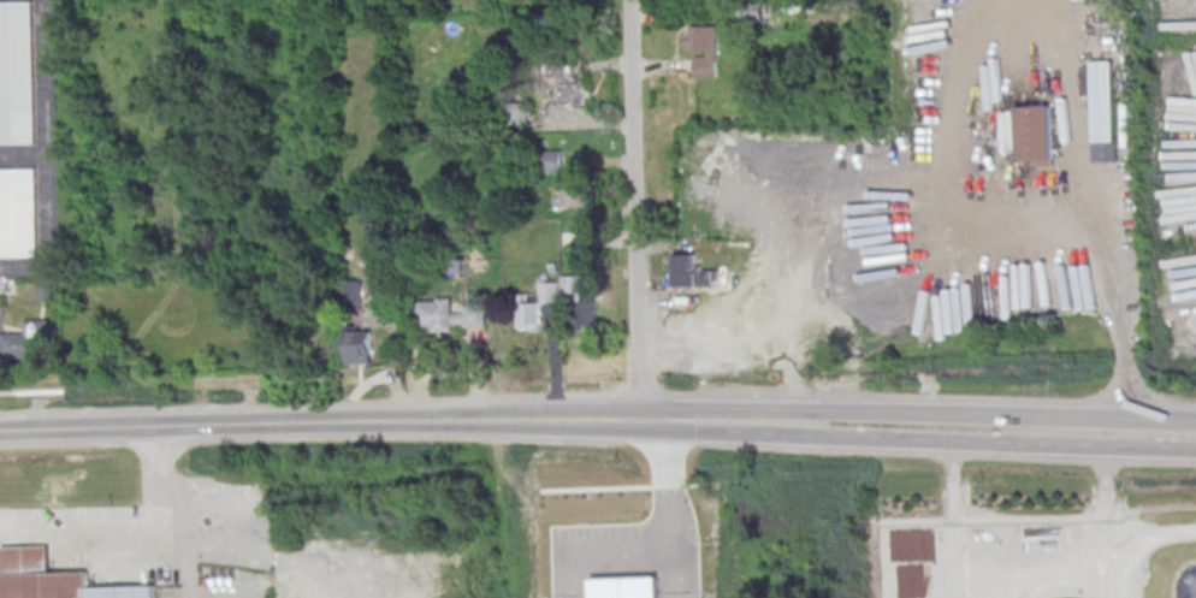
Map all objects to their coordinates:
building: (797, 7)
building: (703, 49)
building: (17, 75)
building: (563, 89)
building: (1103, 111)
building: (1036, 135)
building: (551, 161)
road: (963, 162)
building: (572, 193)
road: (630, 211)
building: (18, 214)
building: (570, 242)
building: (692, 272)
road: (782, 286)
building: (578, 303)
building: (533, 307)
building: (448, 315)
building: (831, 316)
building: (715, 325)
building: (25, 342)
building: (357, 347)
road: (722, 362)
road: (691, 413)
road: (971, 413)
road: (316, 424)
road: (692, 428)
road: (972, 440)
road: (670, 480)
road: (953, 519)
road: (1109, 521)
road: (602, 545)
road: (1034, 559)
road: (675, 570)
building: (54, 579)
building: (624, 588)

